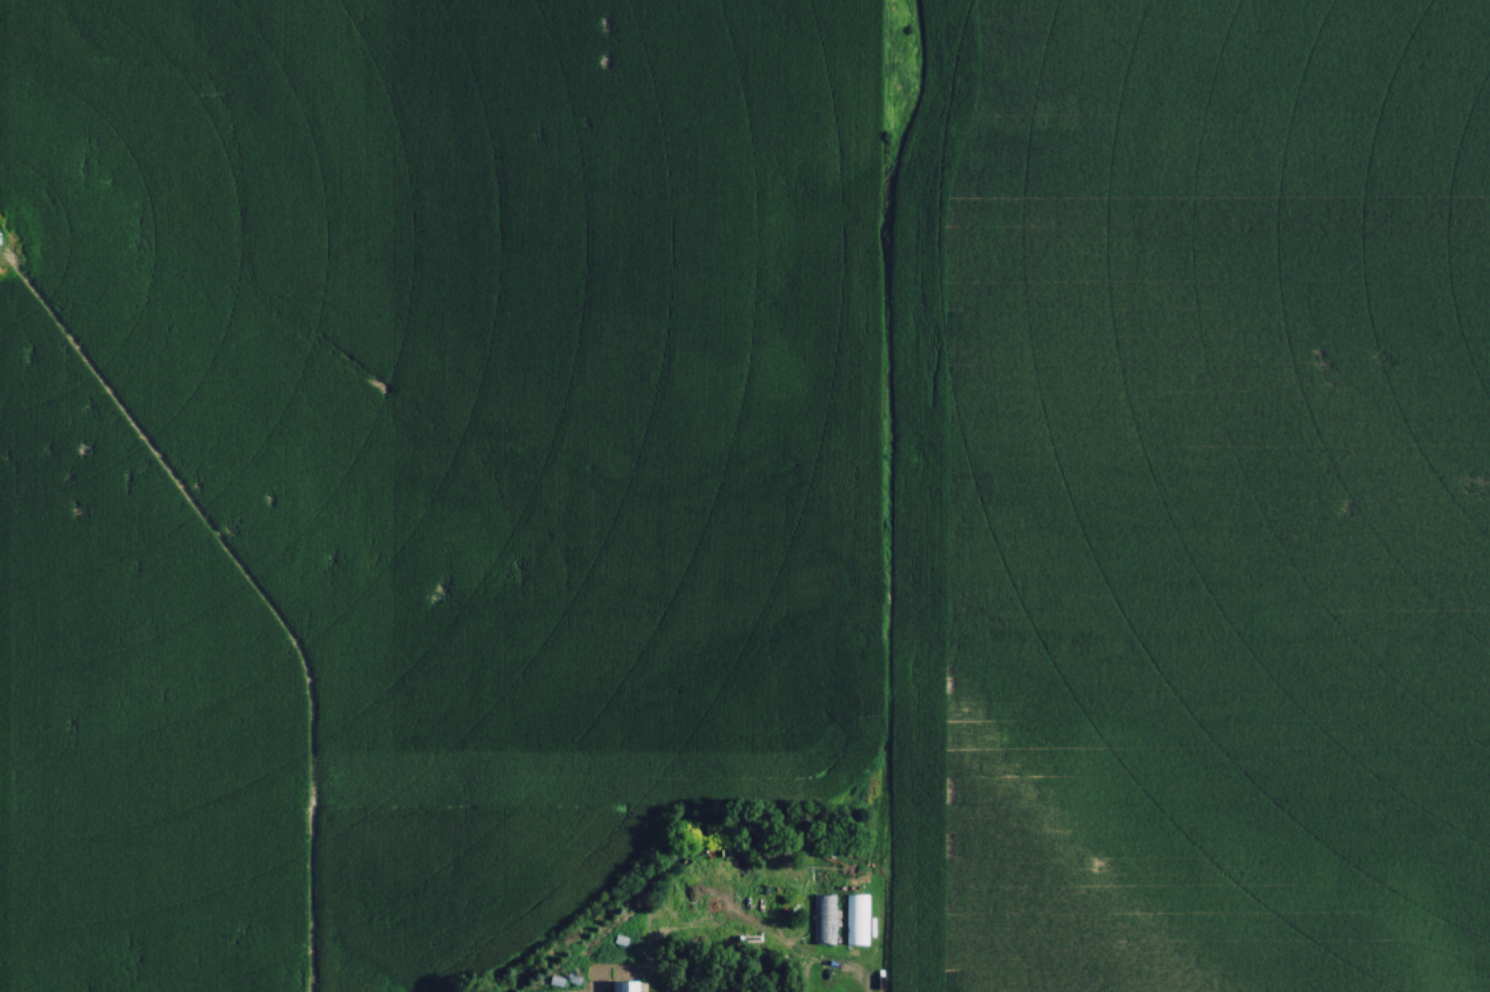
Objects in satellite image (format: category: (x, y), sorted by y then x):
building: (822, 920)
building: (625, 987)

